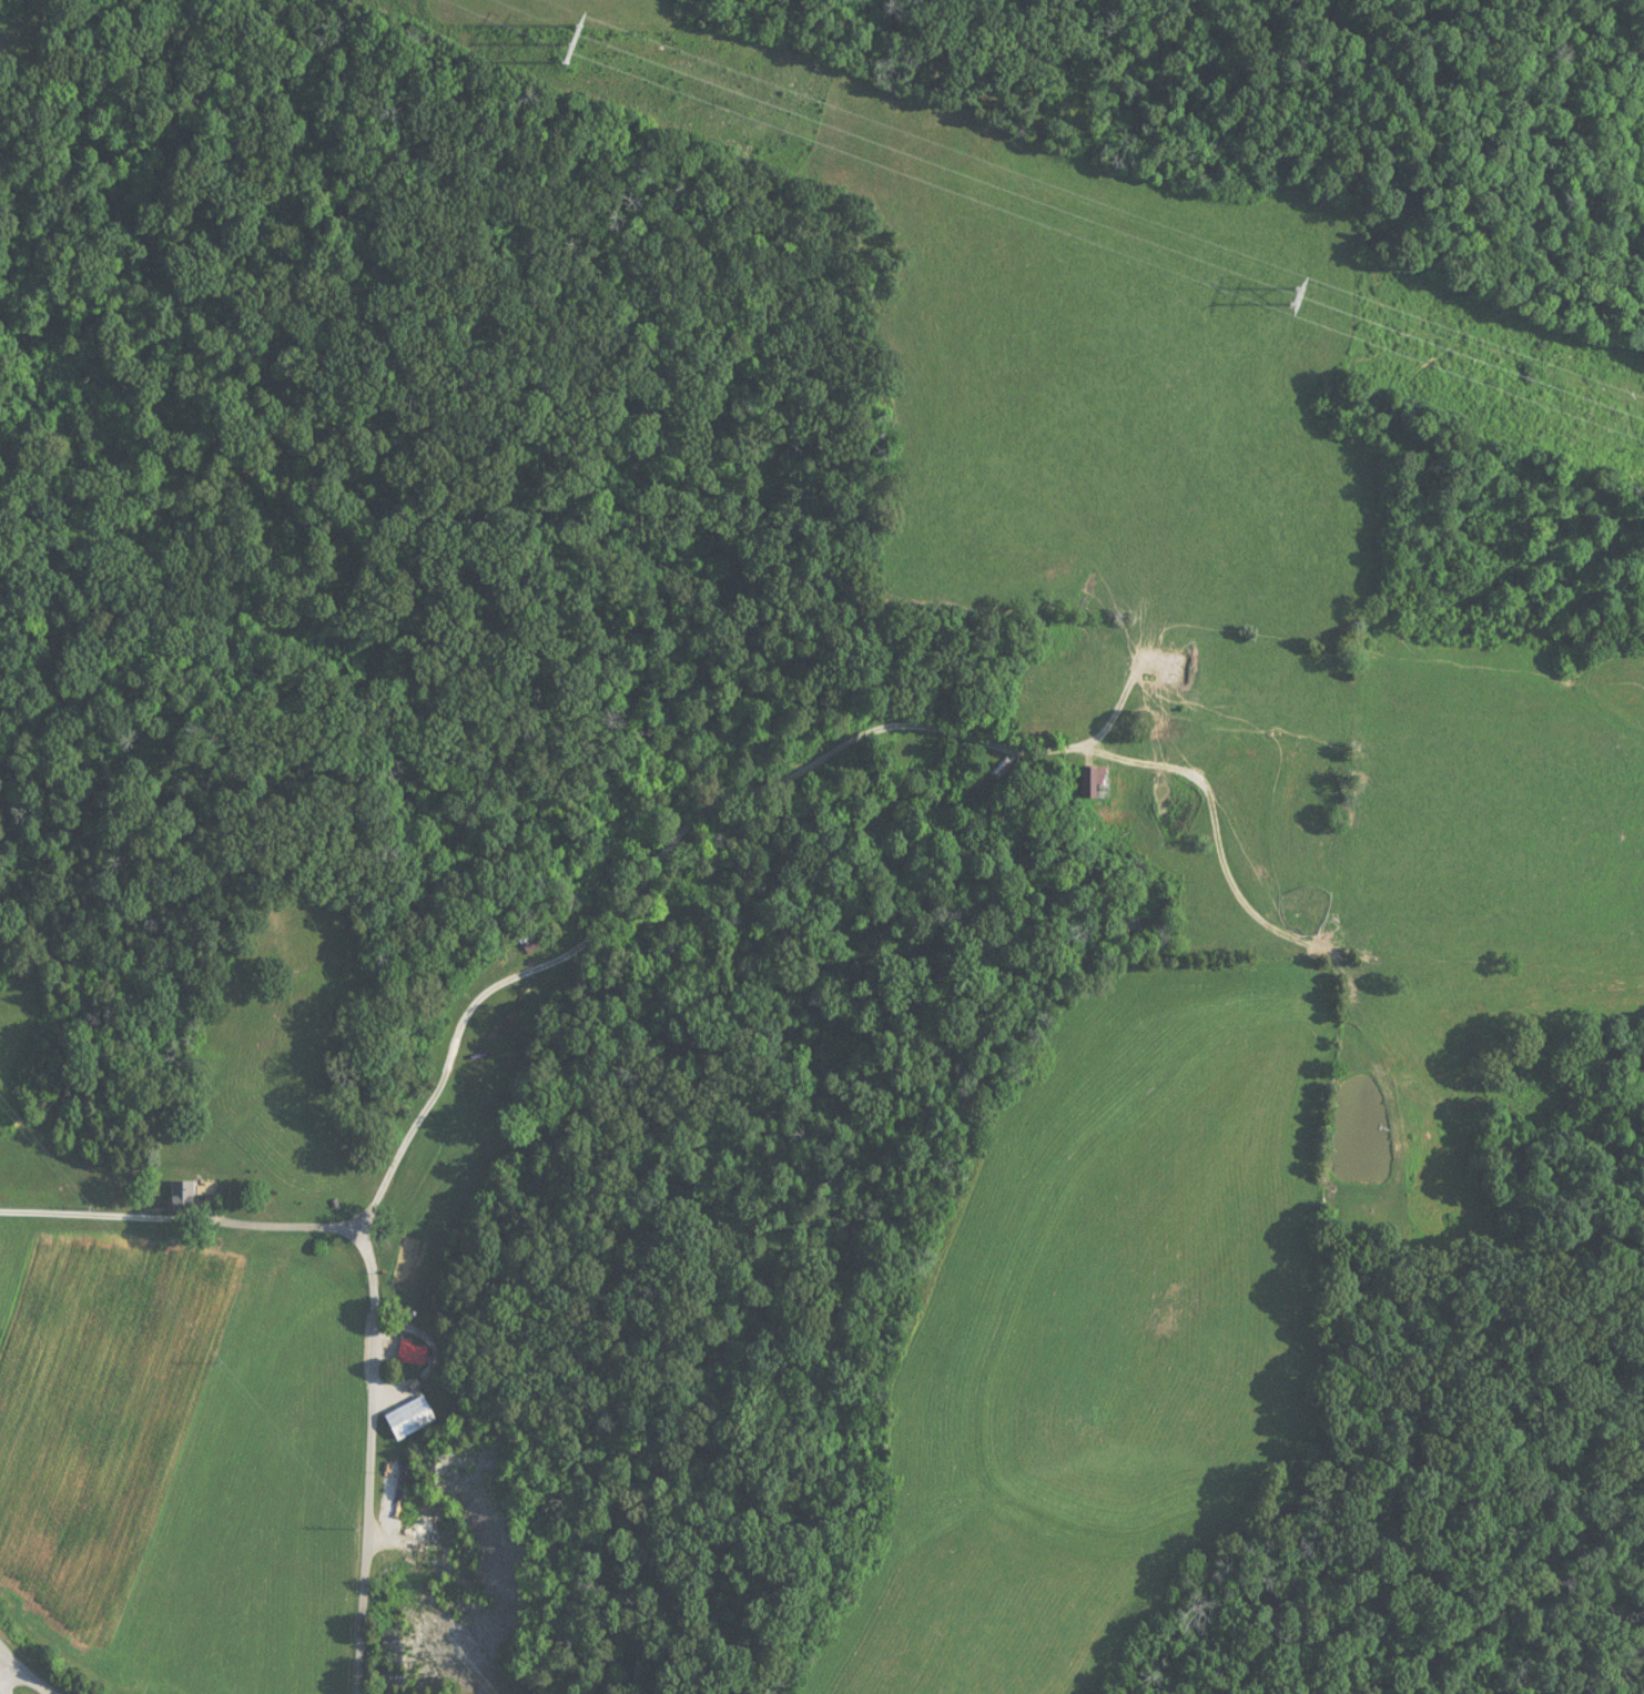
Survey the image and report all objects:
power tower: (567, 47)
power tower: (1290, 298)
road: (773, 769)
building: (1096, 784)
building: (182, 1196)
road: (177, 1220)
building: (409, 1353)
road: (368, 1462)
road: (24, 1673)
road: (8, 1674)

